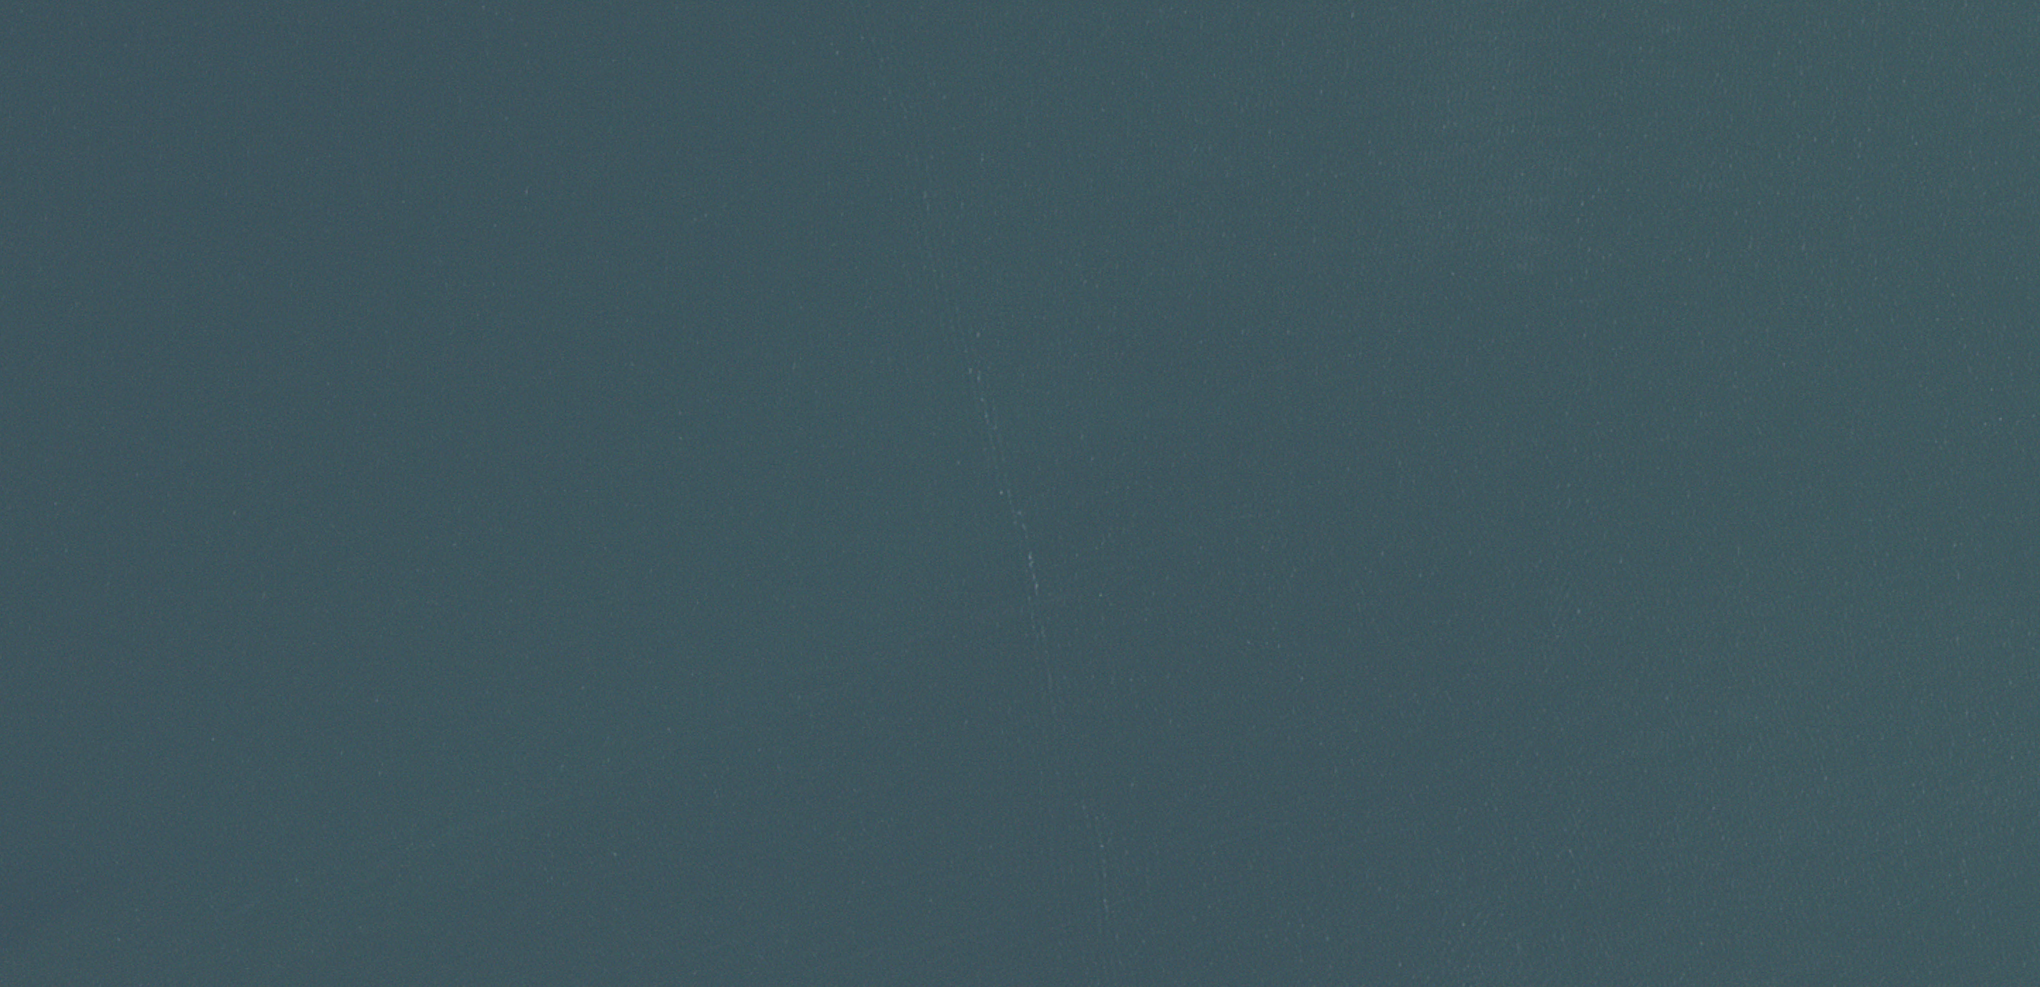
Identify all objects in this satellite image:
river: (1832, 135)

